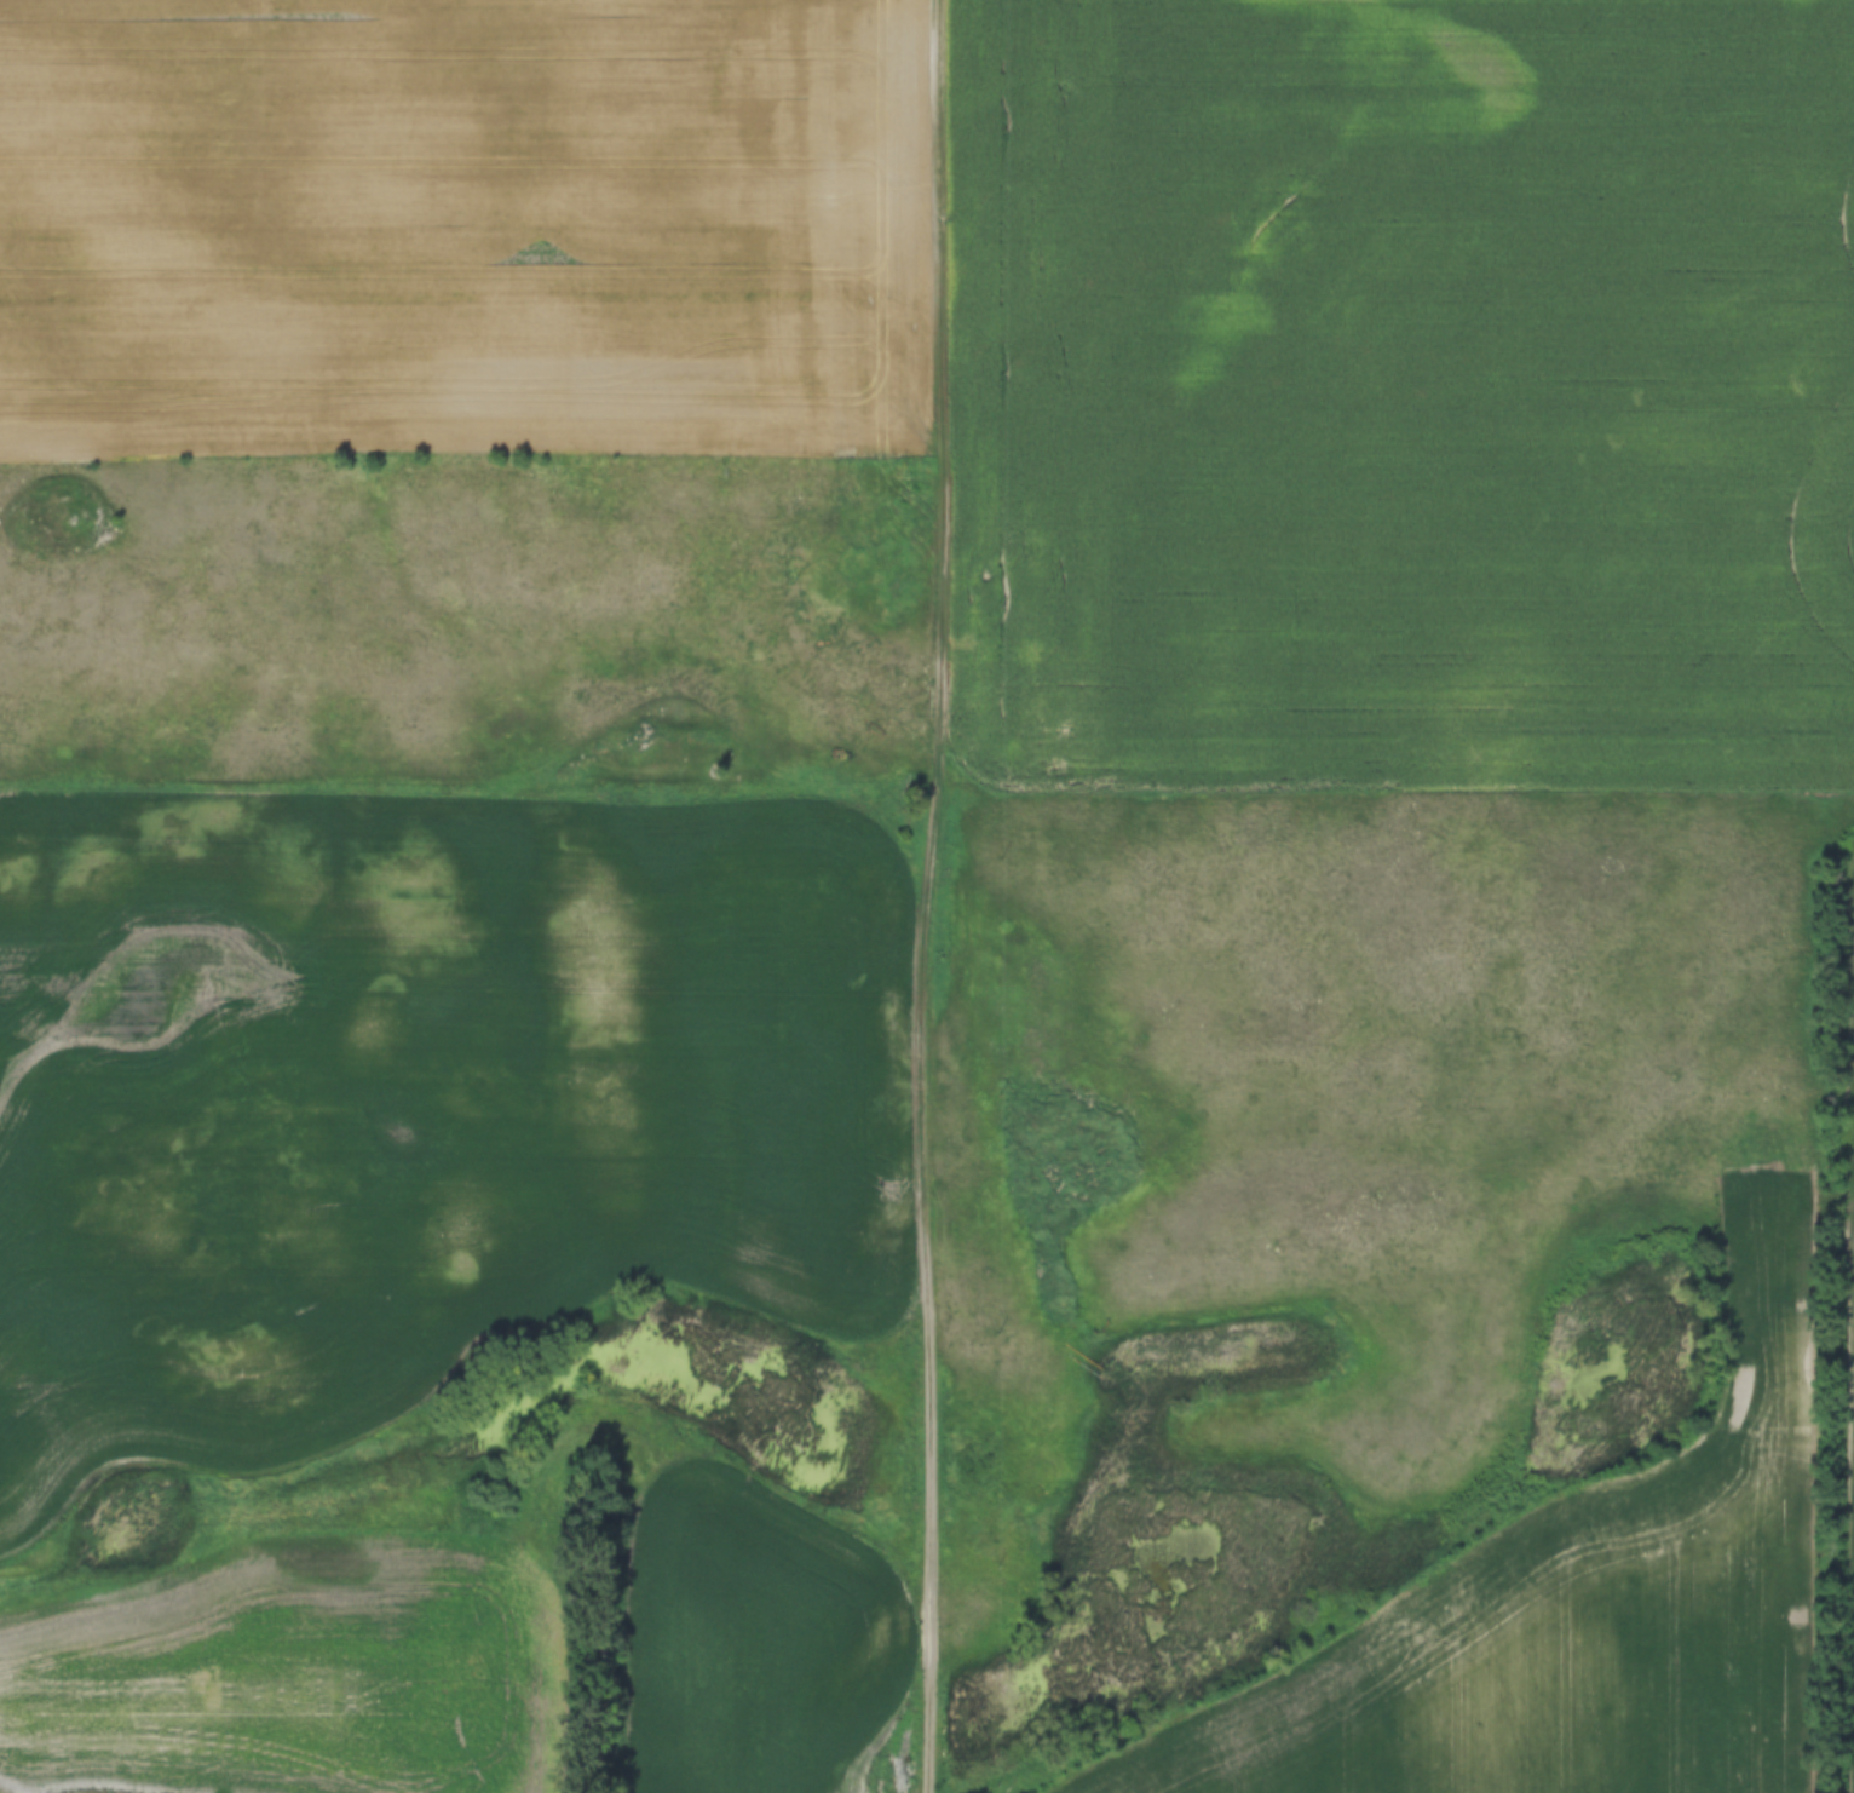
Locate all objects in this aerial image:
road: (472, 447)
road: (931, 896)

